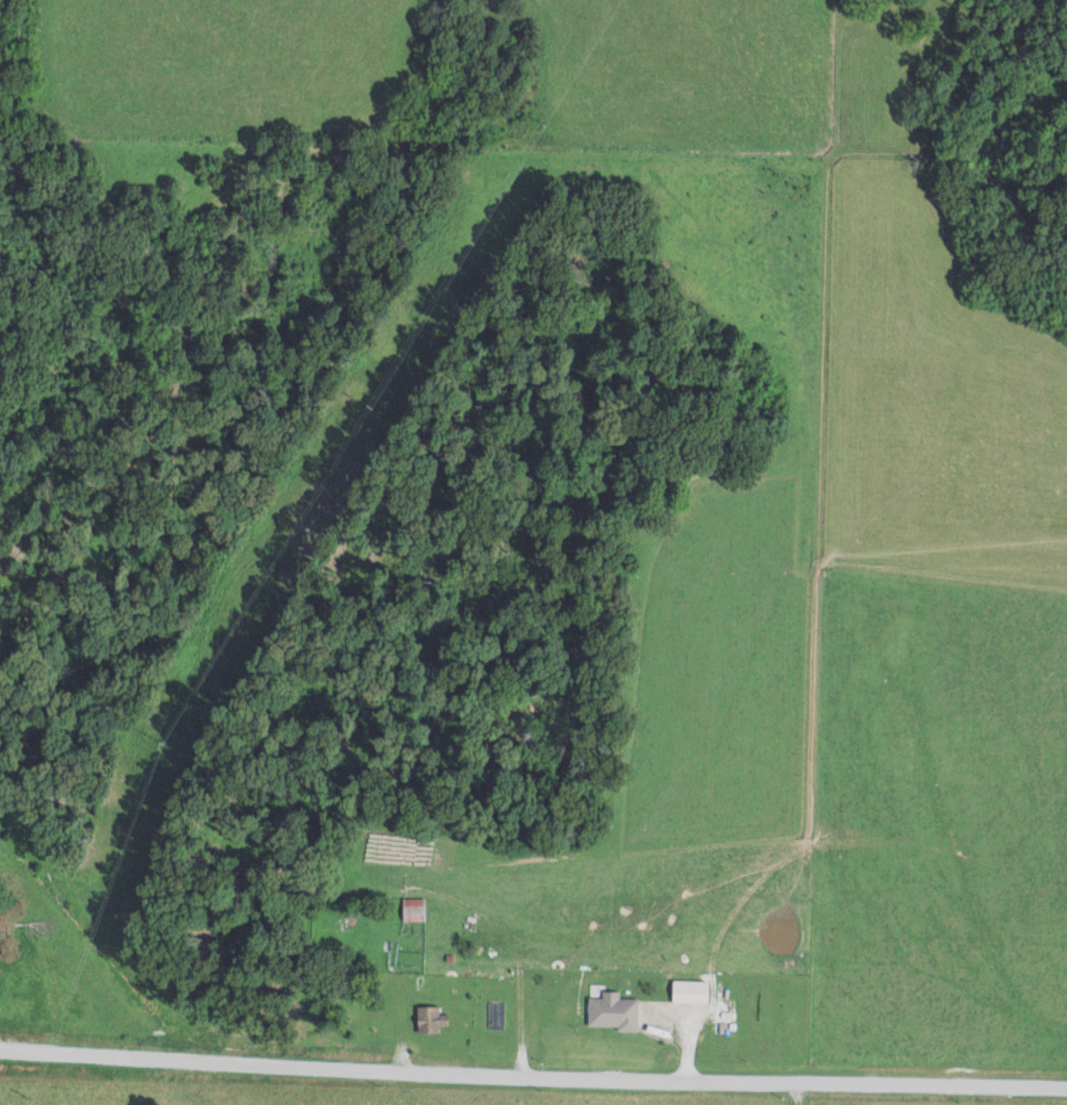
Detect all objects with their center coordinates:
road: (91, 939)
building: (688, 991)
road: (522, 1012)
building: (610, 1012)
building: (428, 1020)
road: (533, 1073)

